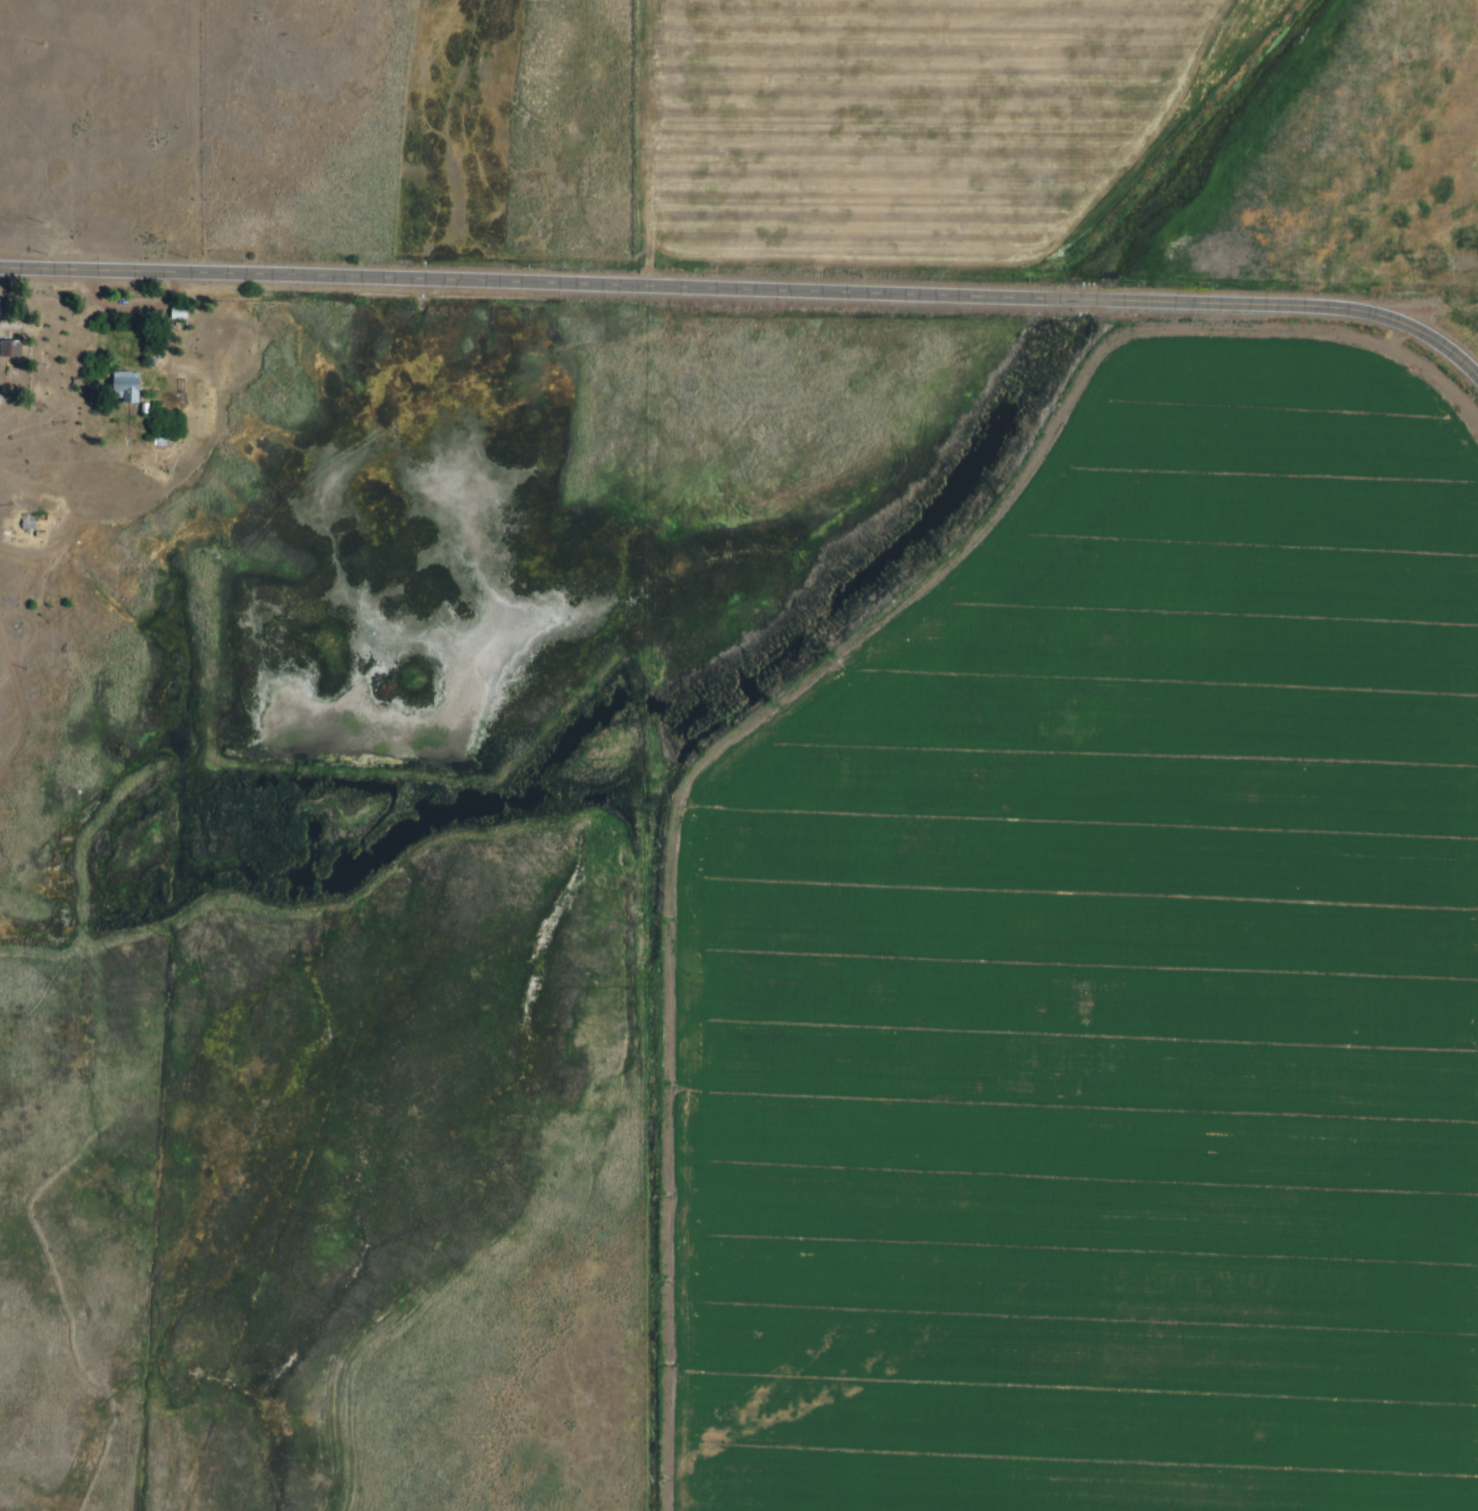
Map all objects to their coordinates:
crop: (924, 125)
road: (749, 292)
road: (142, 304)
road: (1430, 309)
building: (177, 312)
building: (189, 312)
building: (21, 347)
building: (9, 349)
building: (135, 388)
road: (22, 738)
crop: (1115, 988)

